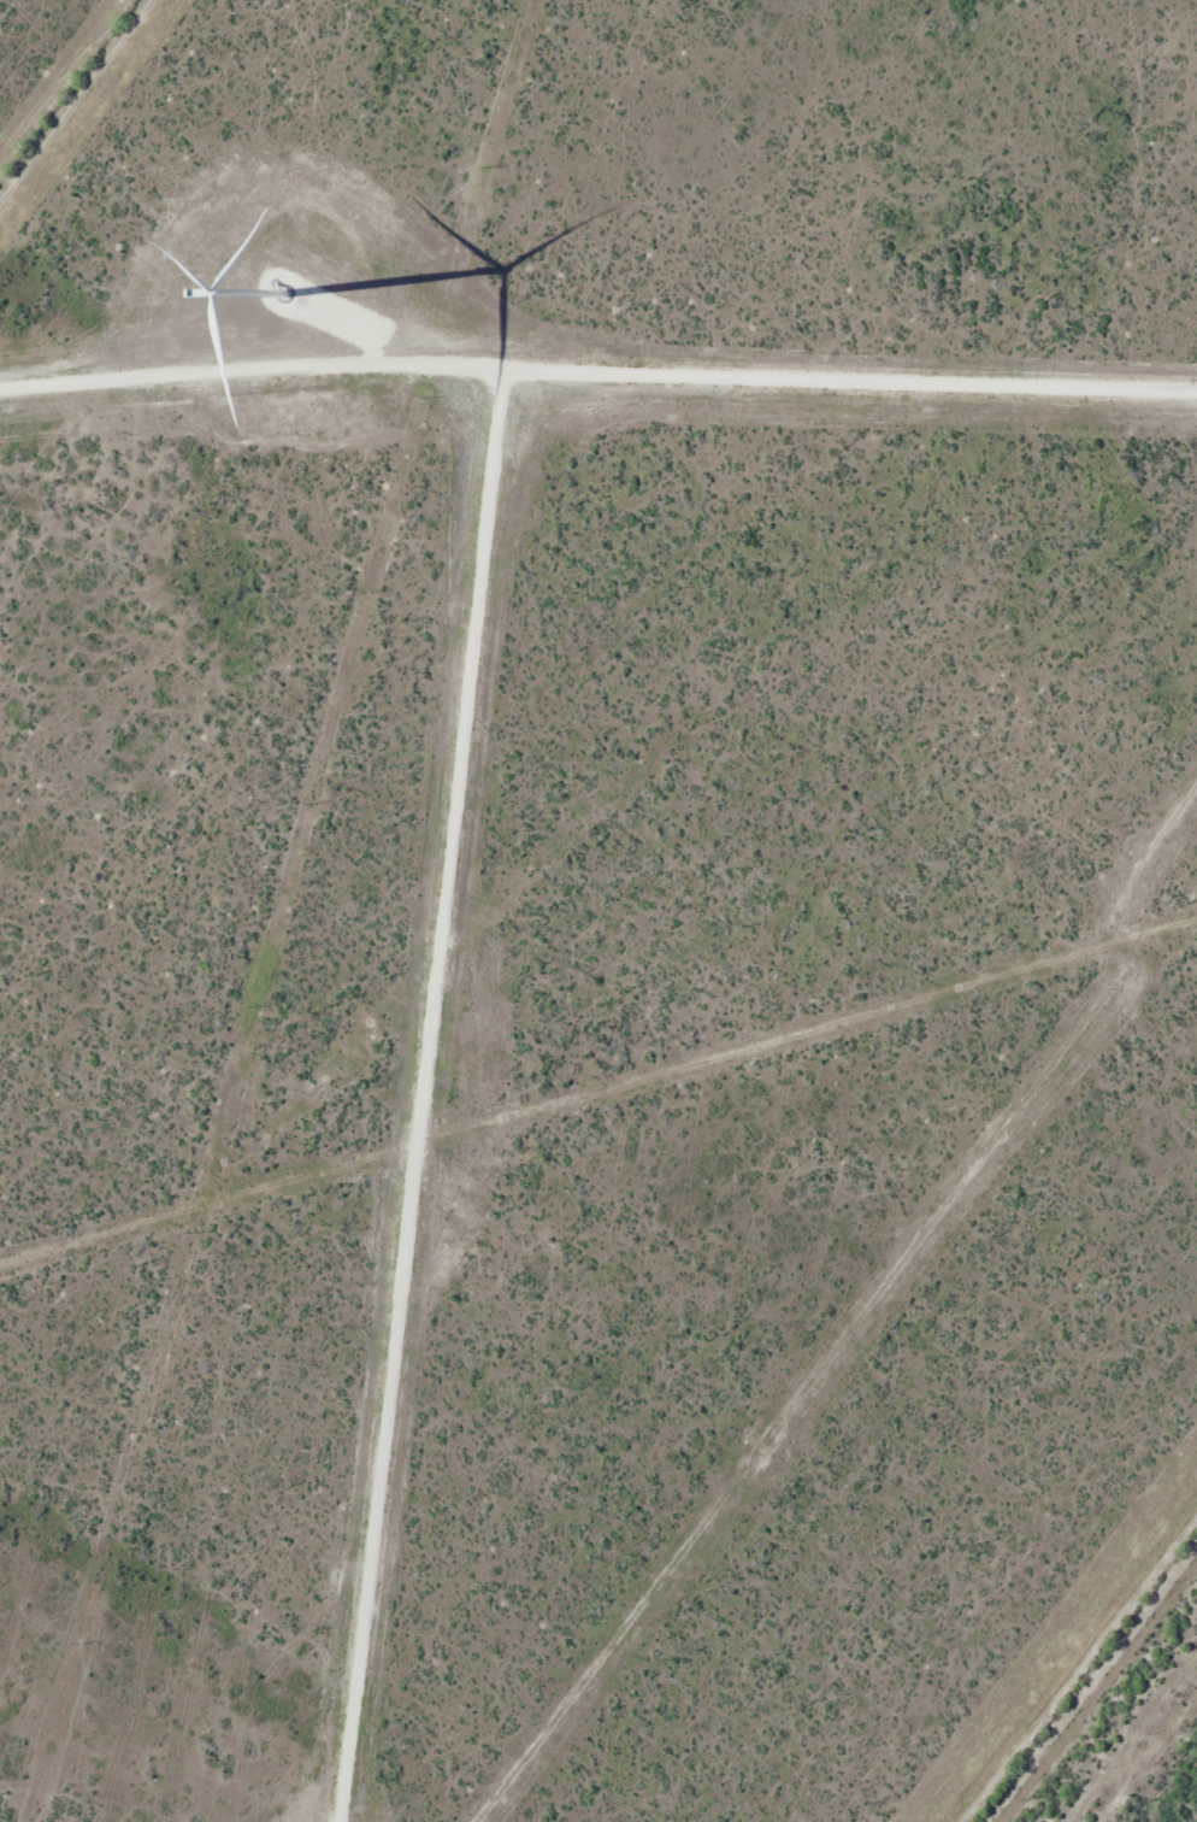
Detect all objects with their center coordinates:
wind turbine: (300, 282)

